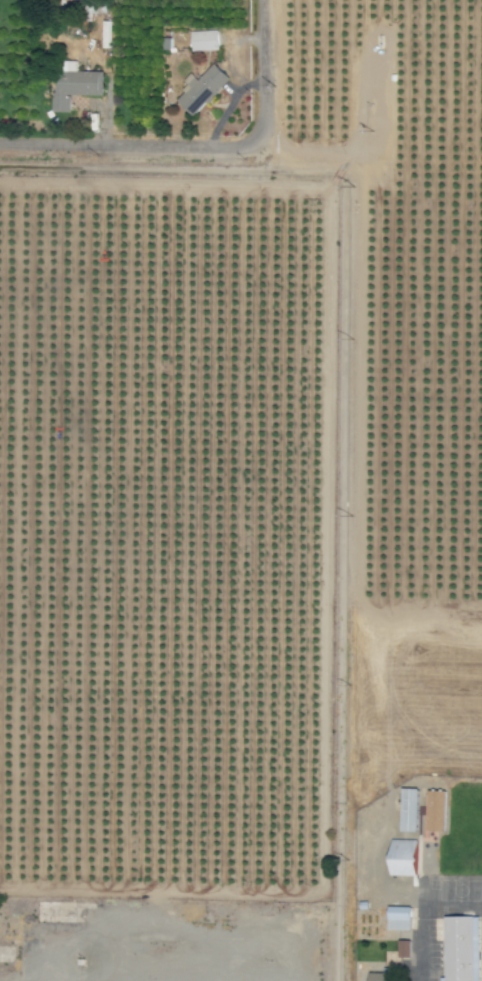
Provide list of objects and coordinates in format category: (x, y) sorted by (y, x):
building: (204, 40)
road: (265, 71)
building: (74, 85)
building: (202, 90)
road: (127, 144)
building: (408, 810)
building: (434, 811)
building: (403, 857)
building: (398, 917)
building: (404, 948)
building: (461, 948)
building: (382, 975)

